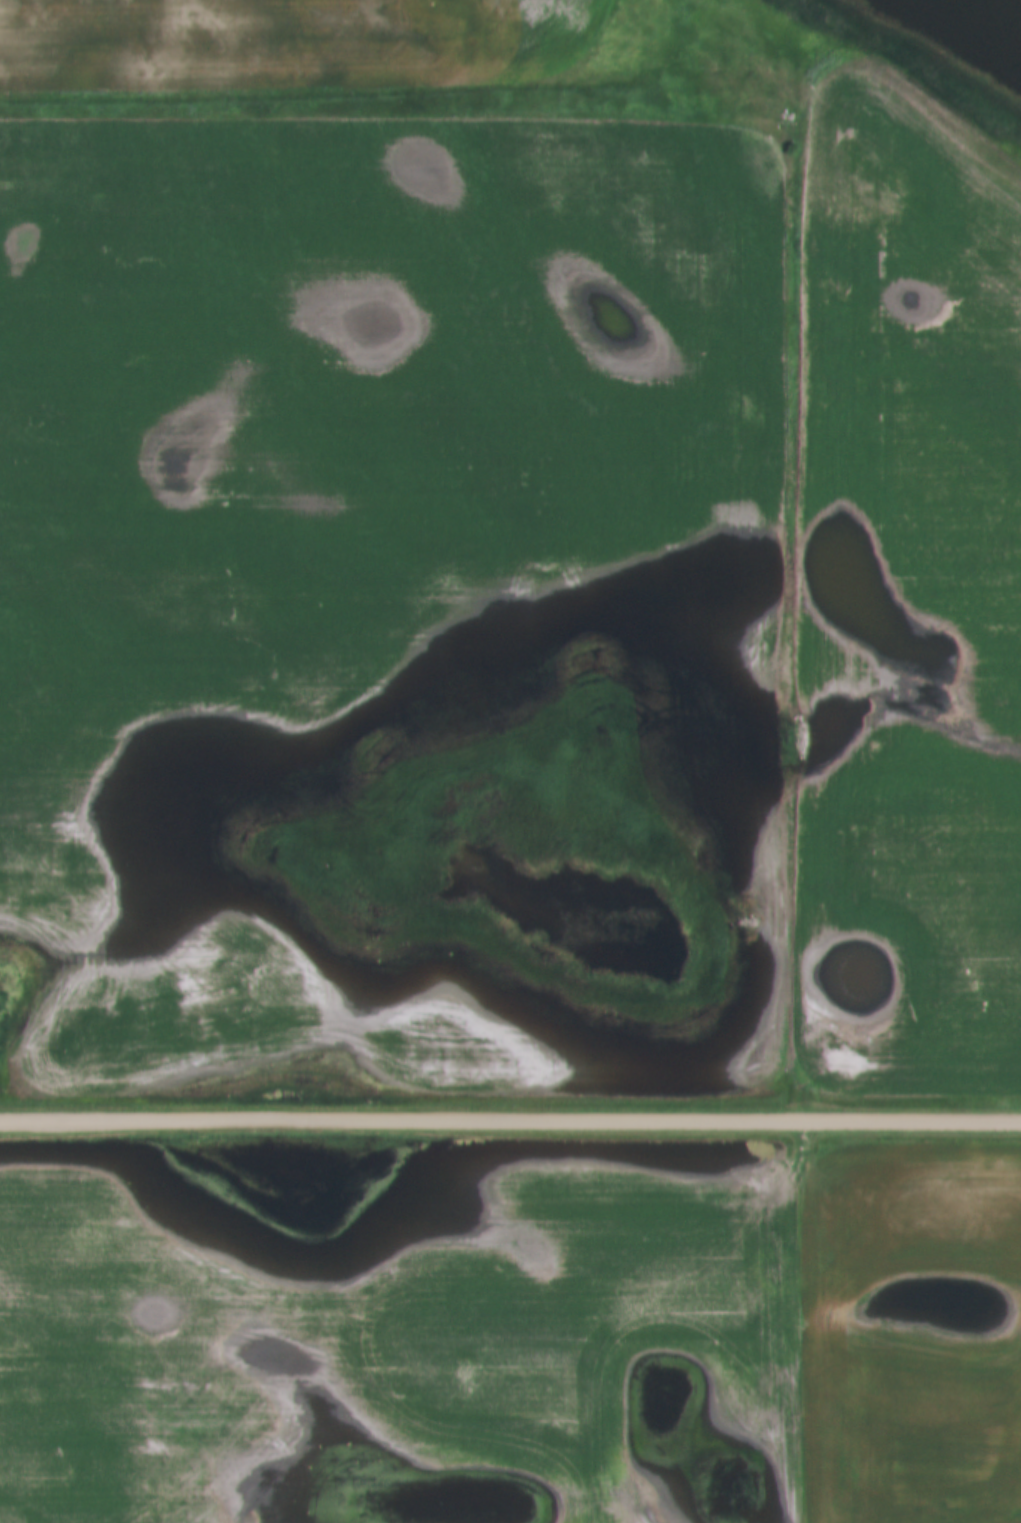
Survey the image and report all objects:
road: (510, 1123)

